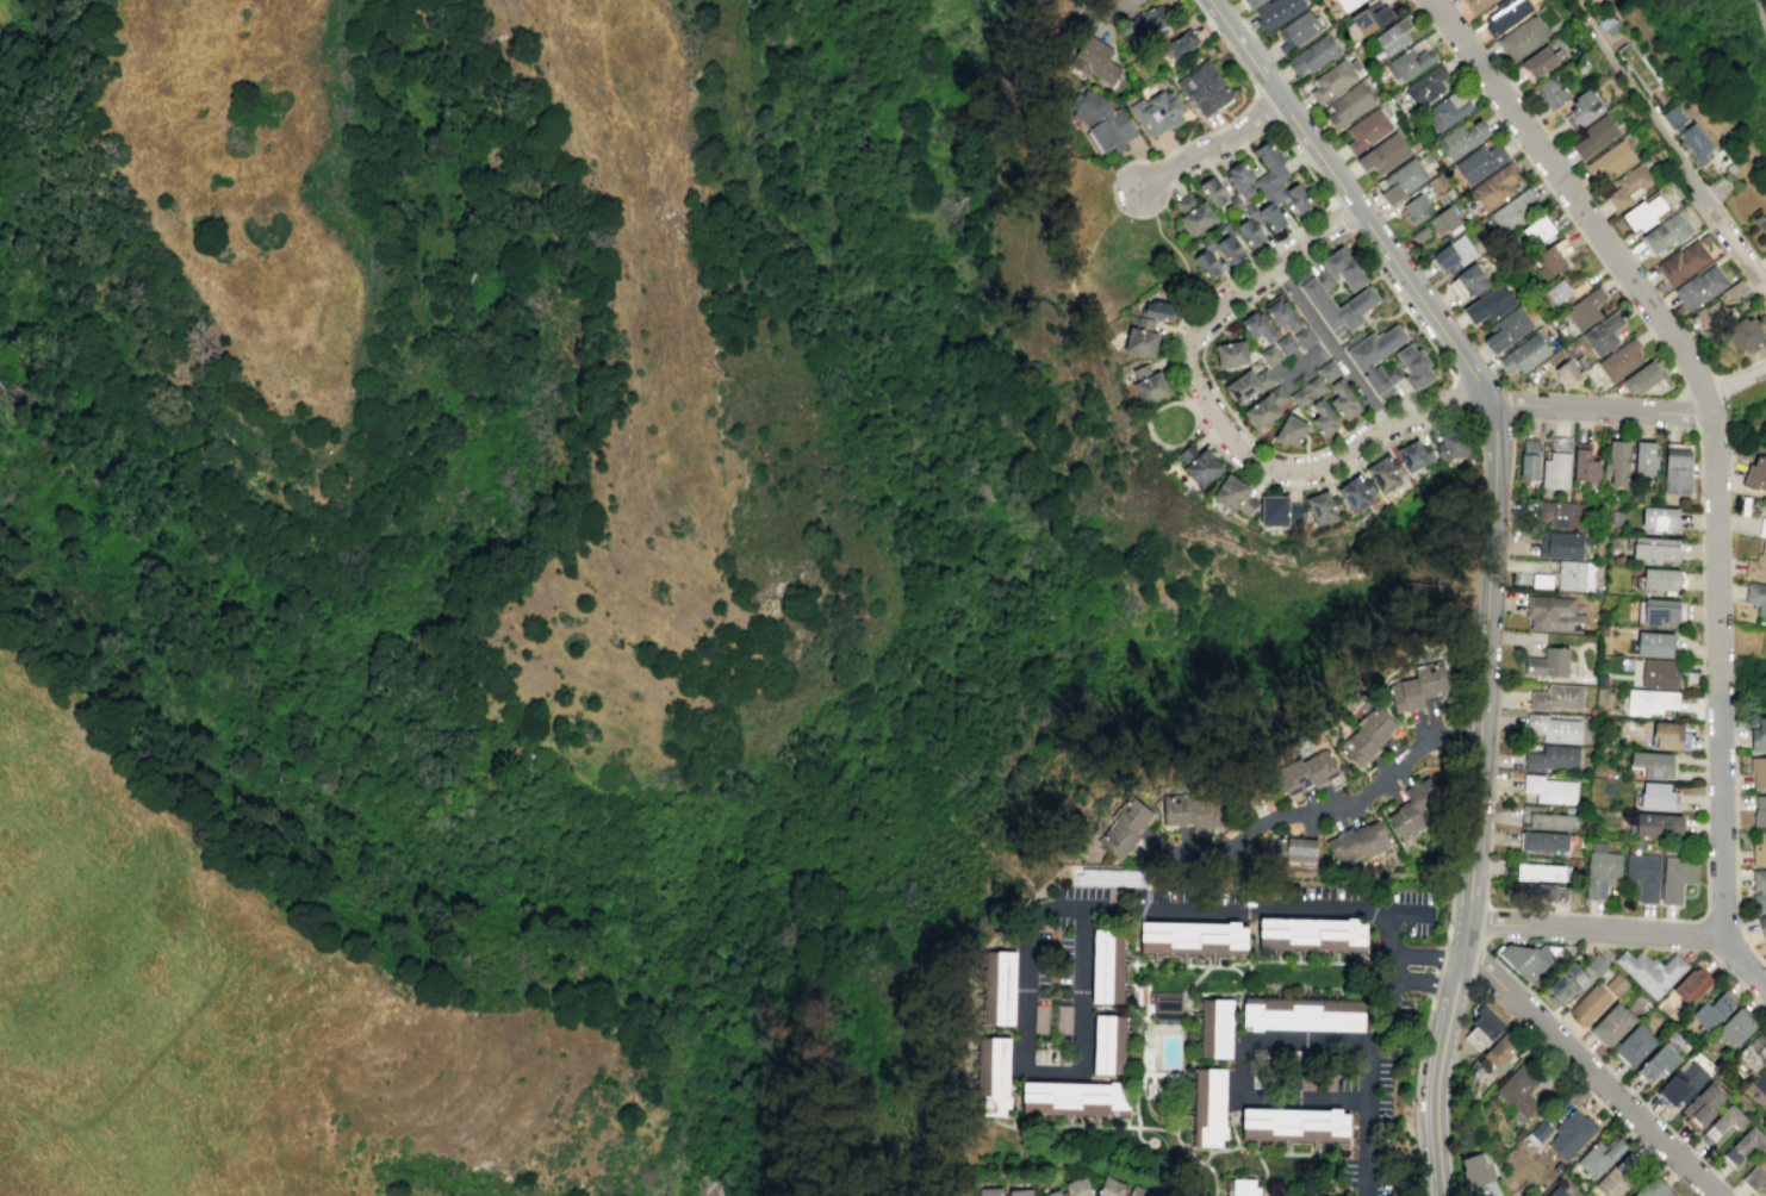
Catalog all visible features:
building: (1250, 4)
building: (1347, 4)
building: (1475, 5)
road: (1112, 12)
building: (1275, 12)
building: (1504, 14)
road: (1756, 14)
building: (1369, 18)
building: (1603, 19)
building: (1145, 21)
building: (1296, 30)
building: (1393, 36)
building: (1522, 37)
building: (1180, 43)
road: (1225, 43)
building: (1313, 55)
building: (1095, 61)
building: (1410, 61)
building: (1540, 62)
building: (1330, 81)
building: (1425, 86)
building: (1204, 88)
road: (1638, 92)
building: (1550, 93)
building: (1348, 105)
road: (1264, 107)
building: (1581, 108)
building: (1447, 110)
building: (1157, 112)
building: (1673, 116)
building: (1101, 122)
building: (1367, 130)
building: (1594, 136)
building: (1461, 138)
building: (1696, 142)
road: (1212, 145)
building: (1382, 155)
road: (1158, 158)
building: (1611, 158)
building: (1479, 162)
road: (1308, 170)
building: (1239, 179)
building: (1399, 181)
building: (1437, 182)
building: (1495, 186)
road: (1547, 186)
building: (1629, 186)
building: (1276, 188)
building: (1213, 192)
building: (1416, 208)
building: (1515, 211)
building: (1644, 211)
building: (1194, 214)
road: (1342, 217)
road: (1363, 220)
building: (1444, 220)
building: (1760, 223)
building: (1538, 230)
road: (1722, 230)
building: (1250, 231)
building: (1666, 232)
building: (1418, 235)
building: (1230, 249)
building: (1454, 253)
road: (1179, 256)
building: (1552, 258)
park: (1181, 260)
building: (1680, 262)
building: (1206, 263)
building: (1470, 280)
building: (1699, 287)
building: (1312, 289)
building: (1557, 291)
road: (1401, 301)
building: (1488, 304)
building: (1585, 309)
building: (1157, 310)
building: (1282, 314)
building: (1712, 316)
building: (1258, 326)
building: (1507, 330)
building: (1602, 334)
building: (1743, 334)
building: (1765, 334)
building: (1302, 336)
building: (1140, 337)
building: (1285, 343)
road: (1331, 347)
building: (1231, 354)
building: (1524, 354)
building: (1269, 355)
building: (1557, 357)
building: (1376, 359)
road: (1304, 361)
building: (1619, 361)
building: (1580, 362)
building: (1413, 367)
building: (1327, 370)
building: (1567, 373)
road: (1208, 375)
building: (1643, 379)
road: (1735, 381)
building: (1146, 384)
building: (1248, 384)
building: (1314, 386)
road: (1420, 394)
building: (1299, 397)
building: (1343, 399)
road: (1462, 399)
road: (1510, 403)
building: (1264, 407)
road: (1376, 410)
road: (1602, 410)
building: (1323, 417)
road: (1150, 418)
road: (1219, 422)
park: (1174, 423)
building: (1289, 430)
road: (1403, 435)
building: (1450, 444)
building: (1413, 456)
road: (1715, 456)
building: (1644, 457)
building: (1529, 460)
building: (1618, 461)
building: (1196, 463)
building: (1556, 463)
building: (1584, 463)
building: (1677, 468)
building: (1383, 474)
building: (1755, 474)
road: (1699, 486)
building: (1355, 493)
building: (1575, 493)
building: (1233, 494)
building: (1323, 507)
building: (1277, 510)
building: (1563, 513)
building: (1659, 518)
building: (1761, 527)
building: (1559, 544)
building: (1656, 549)
building: (1756, 565)
building: (1571, 574)
building: (1541, 580)
building: (1662, 580)
building: (1755, 597)
building: (1660, 611)
building: (1555, 612)
building: (1654, 643)
building: (1548, 662)
building: (1659, 674)
building: (1602, 679)
road: (1484, 685)
building: (1419, 686)
building: (1599, 694)
building: (1556, 696)
building: (1649, 702)
building: (1553, 728)
road: (1466, 735)
building: (1759, 735)
building: (1366, 736)
building: (1668, 736)
building: (1552, 758)
building: (1652, 764)
building: (1758, 771)
building: (1305, 772)
building: (1549, 789)
road: (129, 791)
building: (1656, 796)
road: (1345, 805)
building: (1190, 811)
building: (1759, 811)
building: (1546, 818)
building: (1404, 821)
road: (119, 824)
building: (1656, 824)
building: (1124, 827)
building: (1543, 840)
building: (1360, 841)
road: (1456, 848)
road: (1735, 848)
building: (1300, 849)
building: (1759, 849)
building: (1600, 868)
building: (1541, 872)
building: (1642, 874)
building: (1109, 877)
building: (1675, 877)
building: (1759, 887)
building: (1540, 891)
road: (1470, 905)
road: (1487, 905)
road: (1045, 910)
road: (1409, 911)
building: (1762, 924)
road: (1486, 926)
road: (1597, 929)
building: (1312, 934)
road: (1702, 934)
building: (1194, 936)
road: (245, 939)
road: (1690, 949)
road: (1429, 958)
building: (1526, 958)
building: (1596, 965)
building: (1107, 966)
road: (1397, 968)
road: (1437, 970)
building: (1650, 971)
road: (1426, 980)
building: (1566, 984)
building: (1616, 984)
building: (1691, 985)
building: (999, 988)
parking lot: (1053, 990)
road: (123, 998)
building: (1588, 1004)
building: (1167, 1008)
building: (1712, 1009)
building: (1302, 1013)
building: (1040, 1019)
building: (1063, 1019)
building: (1611, 1023)
building: (1482, 1026)
building: (1734, 1027)
building: (1215, 1028)
building: (1109, 1045)
building: (1635, 1046)
building: (1754, 1049)
building: (1499, 1054)
road: (1439, 1057)
building: (1658, 1063)
road: (1590, 1069)
road: (1608, 1070)
road: (1372, 1072)
building: (993, 1076)
road: (1242, 1078)
building: (1683, 1080)
building: (1760, 1080)
road: (131, 1082)
building: (1523, 1090)
road: (1414, 1092)
building: (1075, 1097)
building: (1702, 1104)
building: (1210, 1107)
building: (1295, 1123)
building: (1722, 1123)
building: (1537, 1132)
building: (1572, 1134)
building: (1743, 1145)
building: (1598, 1157)
building: (1475, 1170)
building: (1619, 1176)
building: (1754, 1178)
building: (1076, 1186)
building: (1111, 1188)
building: (1242, 1188)
building: (1653, 1189)
road: (1494, 1190)
building: (1140, 1191)
building: (1051, 1192)
building: (1556, 1192)
building: (991, 1194)
building: (1021, 1194)
road: (1523, 1194)
building: (1274, 1195)

